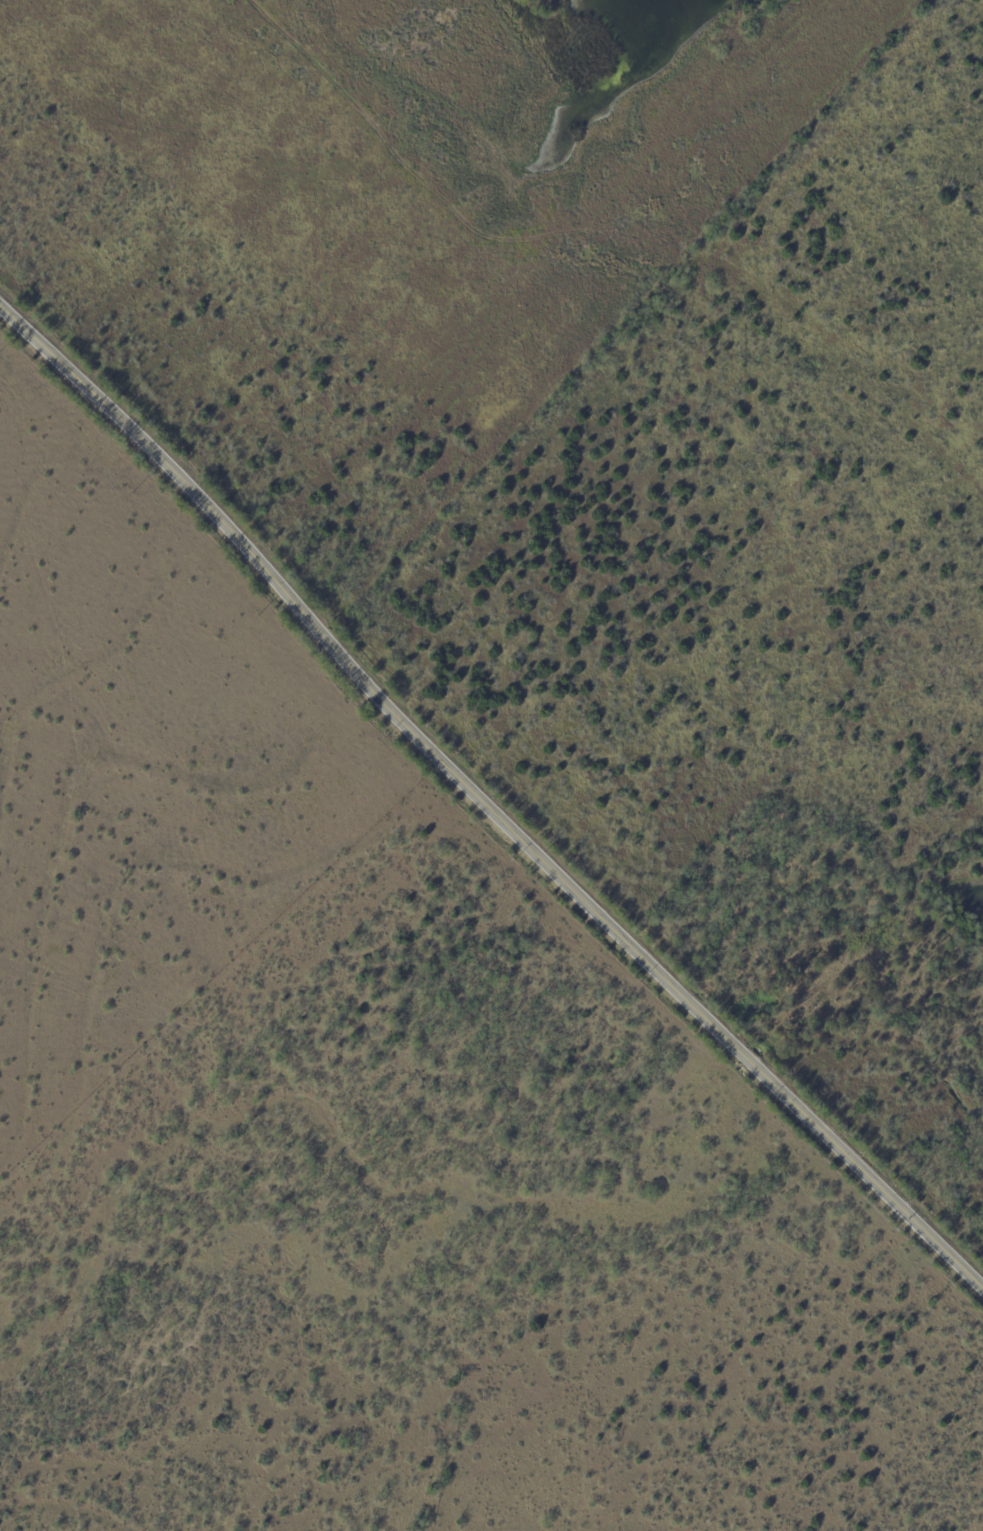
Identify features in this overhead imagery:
road: (484, 802)

